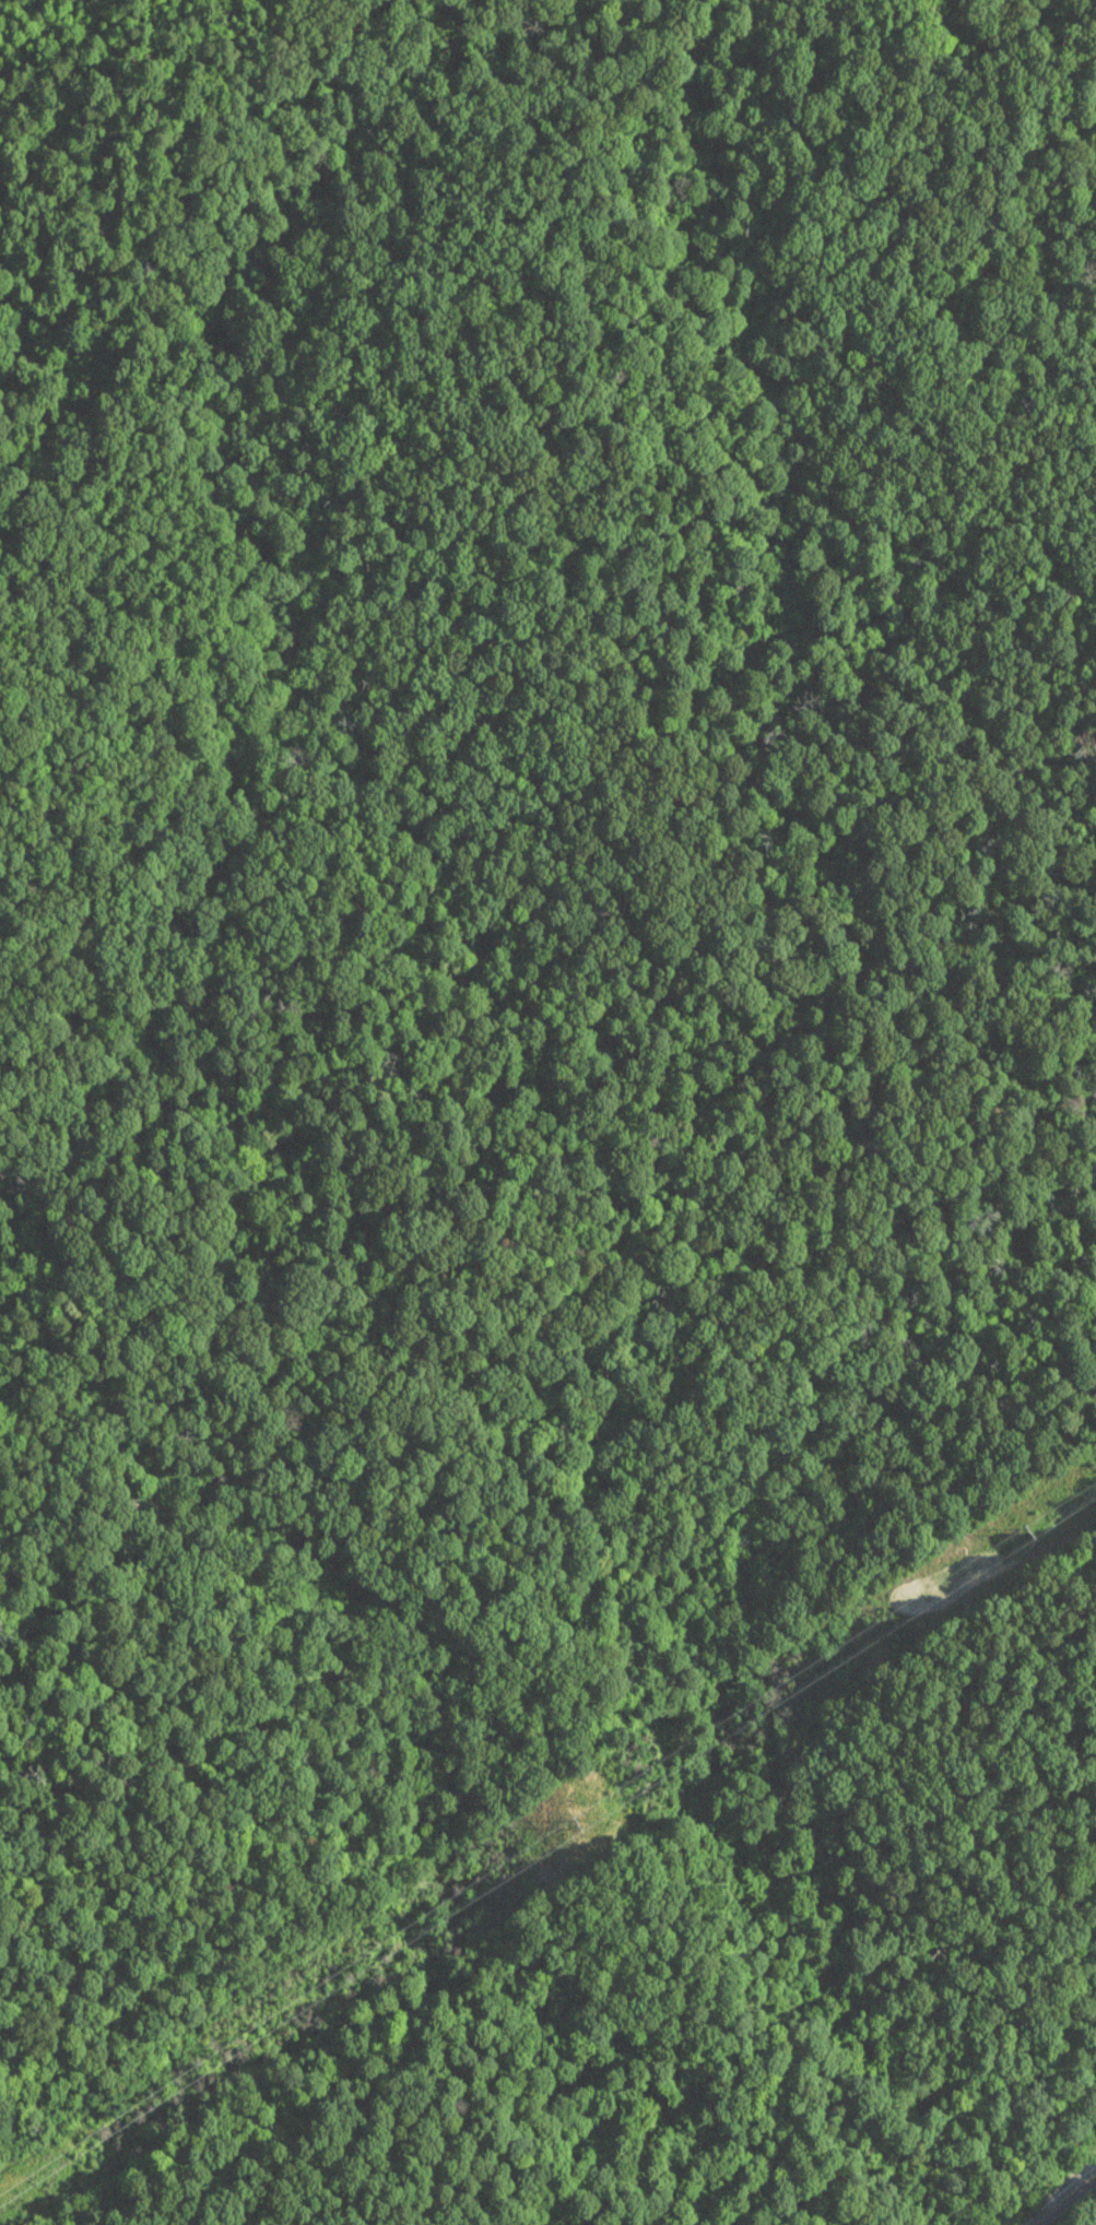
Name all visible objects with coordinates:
road: (1066, 2201)

